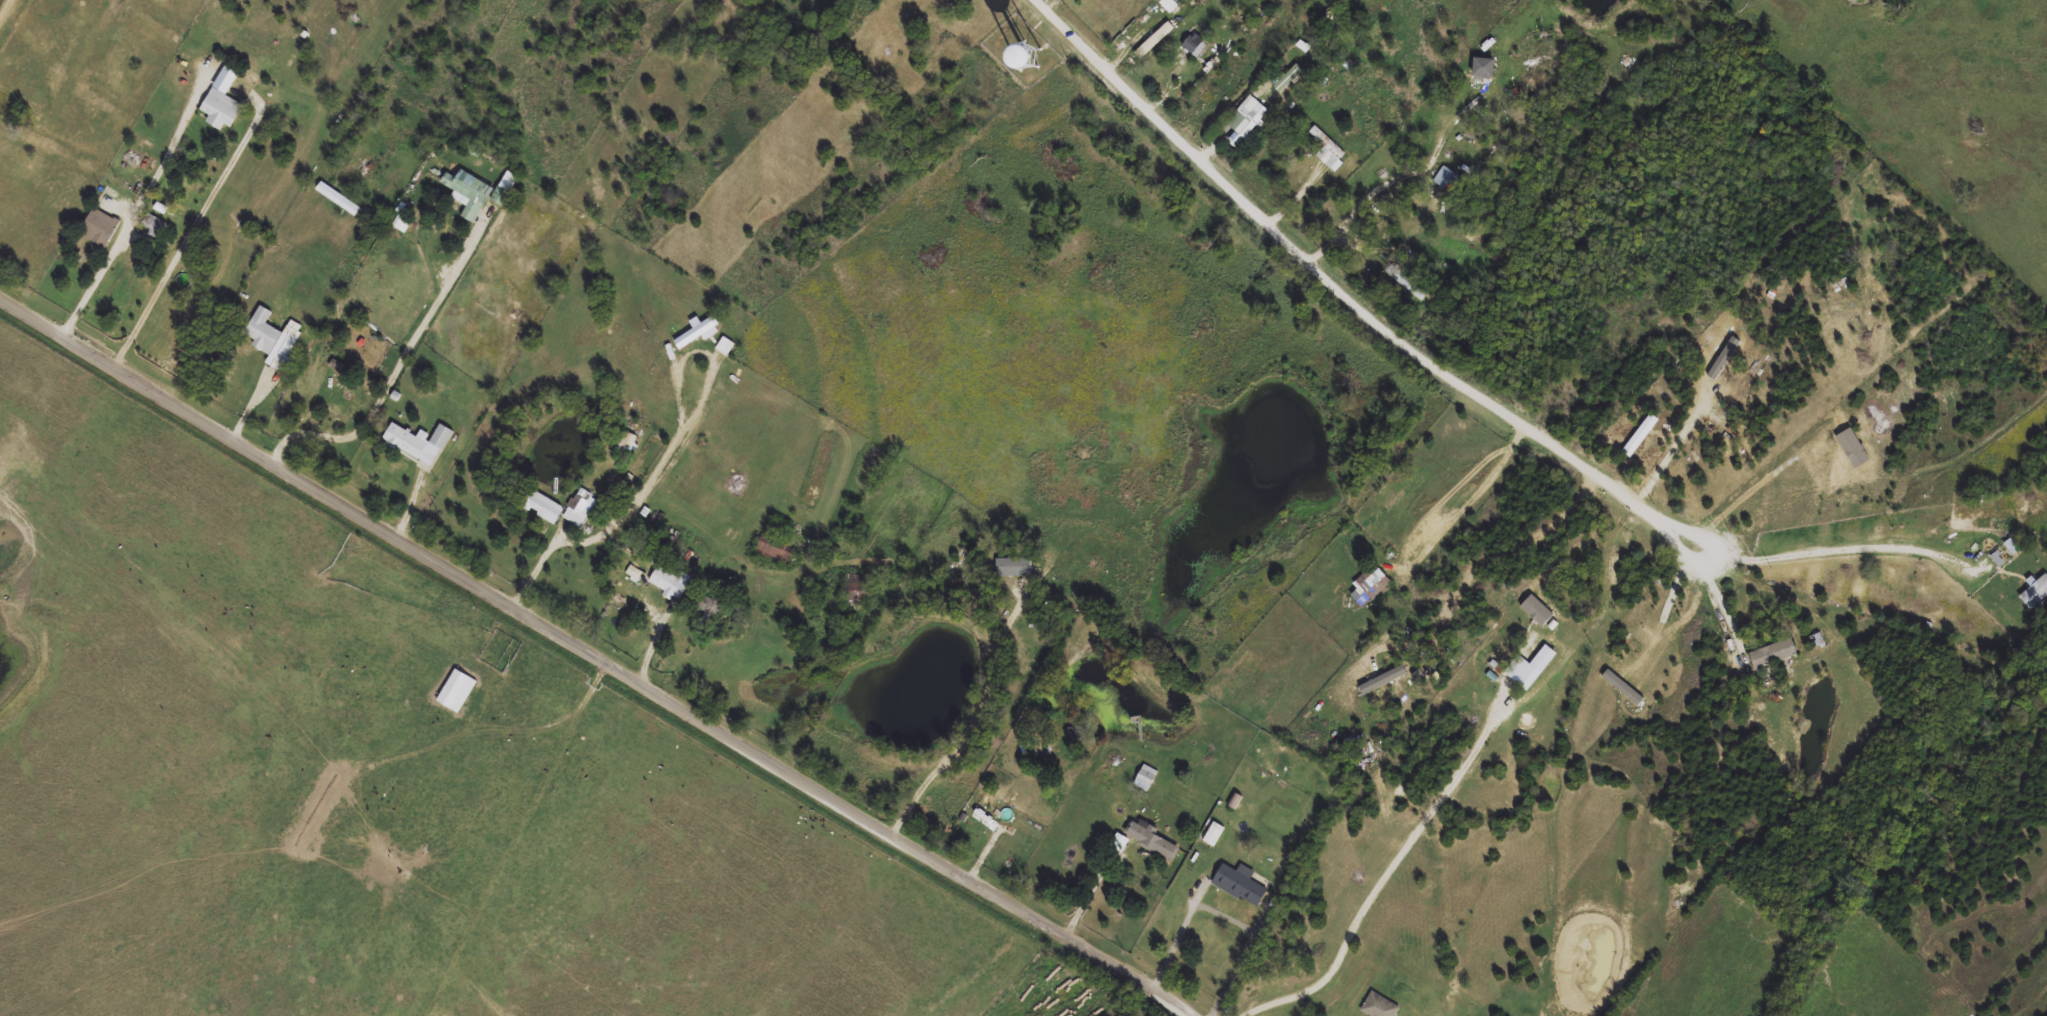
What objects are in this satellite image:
building: (1169, 5)
road: (8, 13)
building: (1484, 69)
building: (1290, 79)
building: (222, 109)
building: (1247, 121)
building: (1328, 149)
building: (1445, 178)
building: (478, 191)
road: (146, 205)
road: (1364, 206)
building: (153, 226)
building: (100, 228)
building: (1403, 279)
road: (154, 301)
road: (1354, 303)
building: (696, 333)
building: (271, 339)
road: (400, 372)
building: (344, 395)
building: (442, 436)
building: (621, 437)
building: (411, 444)
road: (1673, 452)
road: (666, 464)
road: (1471, 501)
building: (560, 506)
building: (657, 546)
building: (2010, 548)
road: (1842, 549)
building: (776, 551)
building: (1013, 567)
building: (623, 582)
building: (1370, 588)
building: (857, 591)
building: (2034, 594)
building: (700, 606)
road: (1731, 612)
building: (1774, 655)
road: (594, 656)
building: (1537, 668)
building: (456, 691)
road: (978, 723)
road: (1459, 773)
building: (1149, 778)
building: (1215, 836)
building: (1147, 841)
building: (1240, 885)
road: (1094, 895)
road: (1182, 939)
road: (1254, 945)
building: (1380, 1007)

